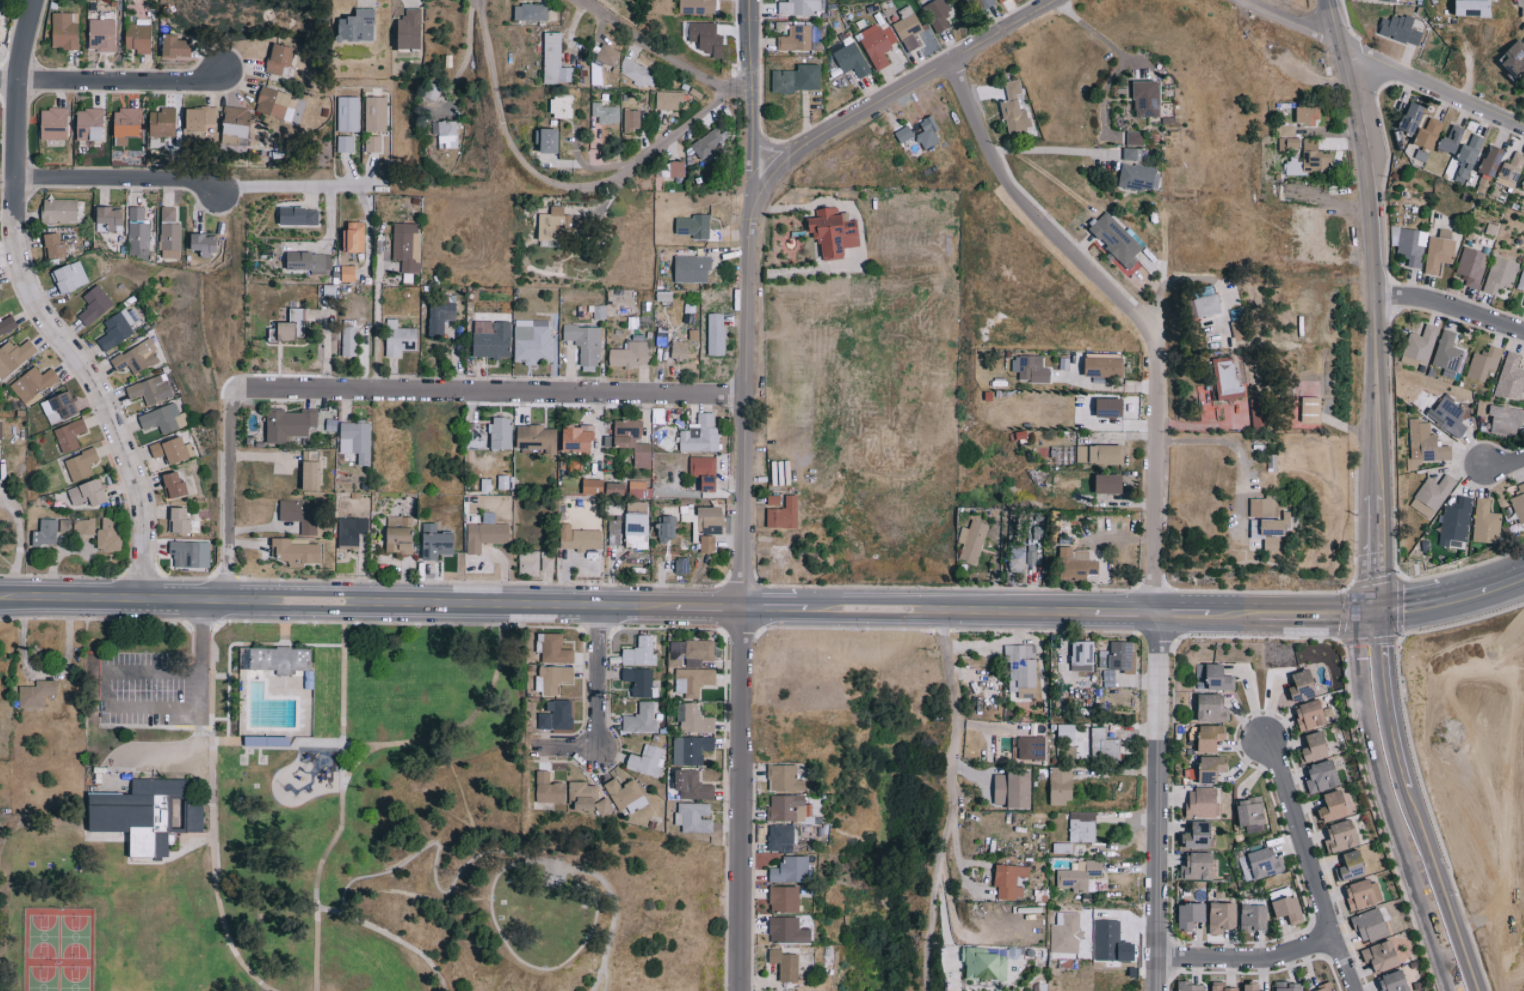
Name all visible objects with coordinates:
building: (1387, 0)
building: (982, 4)
road: (1518, 5)
building: (697, 6)
building: (799, 7)
building: (1465, 7)
building: (532, 12)
building: (937, 14)
road: (1331, 17)
building: (357, 26)
building: (907, 27)
building: (1396, 28)
building: (411, 29)
building: (64, 31)
road: (1095, 33)
building: (102, 34)
building: (138, 36)
building: (707, 37)
building: (877, 43)
building: (176, 46)
road: (665, 52)
building: (609, 54)
road: (466, 55)
road: (1385, 55)
building: (851, 57)
building: (279, 58)
building: (558, 60)
road: (114, 71)
building: (638, 72)
building: (797, 78)
building: (1522, 82)
road: (902, 86)
road: (497, 92)
building: (1147, 98)
building: (668, 99)
building: (274, 103)
building: (565, 107)
building: (1014, 108)
building: (608, 113)
building: (1303, 113)
building: (348, 114)
building: (376, 114)
building: (200, 118)
building: (633, 120)
building: (1405, 120)
building: (237, 121)
building: (162, 122)
building: (53, 123)
building: (90, 124)
building: (126, 125)
road: (677, 130)
building: (1284, 130)
building: (445, 133)
building: (904, 133)
building: (928, 133)
building: (1422, 135)
building: (1134, 138)
building: (550, 140)
building: (708, 143)
building: (345, 144)
building: (372, 144)
building: (1455, 145)
road: (1056, 149)
building: (1302, 151)
building: (1131, 153)
building: (673, 169)
building: (1506, 171)
road: (117, 175)
building: (1519, 183)
road: (294, 185)
road: (576, 187)
road: (1038, 208)
building: (59, 211)
building: (299, 216)
building: (111, 217)
building: (694, 226)
building: (551, 227)
building: (833, 232)
building: (137, 233)
building: (169, 234)
building: (354, 237)
building: (1115, 240)
building: (204, 243)
building: (406, 245)
building: (54, 246)
building: (1410, 246)
building: (1437, 250)
road: (1161, 259)
building: (310, 262)
building: (1469, 266)
building: (692, 268)
road: (1373, 269)
building: (348, 273)
building: (1498, 275)
building: (1521, 280)
building: (0, 296)
building: (1522, 302)
road: (1451, 303)
building: (94, 305)
building: (1198, 306)
road: (45, 309)
building: (440, 316)
road: (376, 322)
building: (114, 331)
building: (715, 334)
building: (399, 338)
building: (349, 341)
building: (493, 342)
building: (1418, 343)
building: (532, 344)
building: (584, 344)
building: (679, 351)
building: (1445, 354)
building: (629, 355)
building: (14, 356)
building: (137, 357)
building: (1481, 363)
building: (1105, 367)
building: (1030, 368)
building: (1508, 378)
building: (33, 383)
road: (490, 385)
building: (151, 389)
building: (59, 407)
building: (1111, 407)
building: (1445, 415)
building: (164, 418)
building: (1503, 418)
building: (289, 424)
building: (1, 430)
building: (500, 433)
building: (701, 434)
building: (69, 435)
building: (538, 438)
building: (357, 439)
building: (579, 439)
building: (633, 441)
building: (1425, 443)
road: (1237, 445)
building: (173, 450)
building: (1062, 454)
building: (1099, 454)
building: (81, 464)
building: (702, 465)
road: (1502, 466)
building: (311, 471)
building: (503, 482)
building: (709, 483)
building: (1110, 484)
building: (174, 485)
building: (592, 486)
building: (615, 489)
building: (638, 489)
road: (235, 491)
building: (1432, 491)
building: (88, 493)
road: (745, 495)
building: (773, 500)
building: (1518, 502)
building: (1257, 506)
building: (301, 514)
building: (784, 514)
building: (182, 522)
building: (1453, 522)
building: (1483, 522)
building: (1269, 525)
building: (83, 526)
building: (667, 529)
building: (351, 531)
building: (637, 531)
building: (45, 532)
building: (613, 532)
building: (399, 534)
building: (110, 535)
building: (485, 536)
building: (579, 538)
building: (972, 541)
building: (436, 542)
road: (20, 543)
building: (707, 543)
building: (1267, 543)
building: (296, 552)
building: (187, 554)
building: (1030, 556)
building: (1016, 559)
road: (1371, 559)
building: (534, 562)
building: (1075, 563)
road: (1449, 599)
road: (685, 603)
road: (266, 642)
road: (287, 647)
building: (553, 647)
building: (640, 652)
building: (690, 652)
building: (1082, 652)
building: (1118, 655)
building: (283, 660)
road: (1156, 662)
building: (1021, 669)
road: (109, 671)
road: (596, 676)
building: (1109, 676)
building: (1214, 676)
building: (552, 678)
building: (693, 680)
building: (639, 681)
building: (1303, 685)
parking lot: (150, 689)
building: (34, 693)
road: (1374, 700)
building: (1212, 706)
road: (949, 712)
building: (556, 714)
building: (1312, 714)
building: (641, 718)
building: (694, 718)
road: (471, 723)
building: (1065, 731)
building: (1212, 736)
road: (280, 744)
building: (1103, 744)
building: (1317, 745)
building: (1031, 747)
building: (696, 748)
road: (568, 749)
building: (647, 760)
road: (359, 761)
building: (1212, 767)
building: (1324, 775)
building: (784, 777)
building: (693, 784)
building: (1061, 784)
building: (549, 788)
building: (1012, 789)
building: (626, 794)
building: (587, 796)
building: (1202, 802)
building: (1335, 805)
building: (786, 807)
building: (1252, 810)
building: (151, 814)
building: (694, 816)
building: (1082, 826)
park: (335, 830)
building: (1199, 834)
road: (337, 835)
building: (1342, 835)
building: (780, 837)
road: (944, 847)
road: (213, 856)
road: (473, 859)
building: (1260, 862)
road: (1308, 864)
building: (1352, 865)
building: (1199, 866)
building: (790, 869)
building: (1079, 874)
building: (1010, 879)
road: (1426, 890)
building: (1361, 894)
building: (784, 898)
building: (1289, 908)
building: (1192, 914)
building: (1223, 916)
building: (1254, 916)
road: (945, 922)
building: (1370, 925)
building: (787, 930)
road: (929, 934)
road: (318, 949)
park: (60, 950)
building: (1382, 955)
road: (1246, 959)
building: (785, 964)
building: (984, 964)
road: (532, 966)
road: (606, 967)
building: (1395, 981)
building: (1189, 986)
building: (1290, 986)
building: (1224, 987)
building: (1253, 987)
building: (1325, 987)

